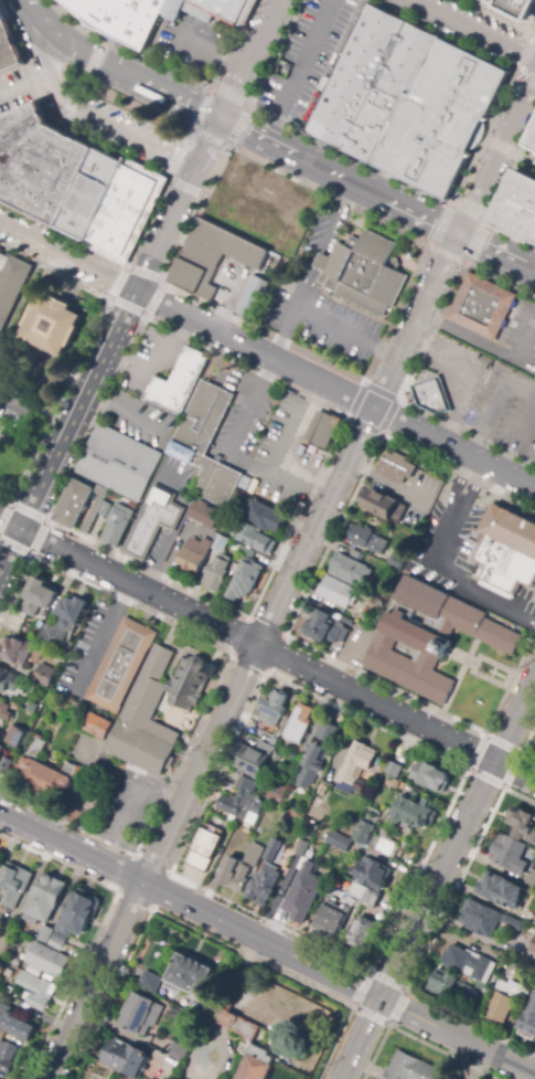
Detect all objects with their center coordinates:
building: (77, 6)
building: (515, 6)
building: (224, 8)
building: (185, 10)
road: (496, 17)
building: (1, 18)
building: (125, 19)
road: (472, 29)
road: (531, 32)
road: (442, 35)
parking lot: (191, 43)
building: (8, 49)
parking lot: (303, 57)
road: (94, 59)
road: (250, 60)
road: (523, 61)
road: (116, 68)
road: (517, 70)
road: (171, 71)
road: (79, 86)
building: (407, 99)
road: (67, 108)
road: (88, 117)
traffic signals: (222, 120)
building: (20, 127)
road: (193, 130)
road: (186, 138)
building: (531, 140)
road: (210, 146)
road: (499, 147)
road: (499, 157)
road: (525, 159)
road: (173, 161)
road: (364, 161)
parking lot: (466, 165)
road: (157, 170)
building: (44, 172)
road: (340, 177)
road: (184, 187)
road: (497, 192)
building: (89, 193)
road: (451, 205)
building: (122, 207)
building: (516, 207)
road: (165, 231)
road: (430, 246)
road: (496, 253)
road: (67, 257)
building: (222, 266)
building: (364, 271)
road: (159, 282)
building: (12, 287)
building: (249, 296)
building: (482, 306)
road: (415, 320)
building: (53, 326)
road: (255, 347)
road: (84, 351)
road: (413, 366)
building: (178, 382)
building: (431, 395)
building: (3, 401)
road: (344, 415)
road: (349, 417)
building: (321, 429)
road: (67, 432)
building: (207, 438)
road: (453, 447)
building: (119, 462)
building: (396, 465)
building: (245, 484)
building: (379, 504)
building: (74, 505)
building: (95, 509)
building: (105, 509)
building: (205, 515)
building: (265, 517)
building: (153, 521)
road: (44, 525)
building: (117, 525)
building: (255, 539)
building: (366, 539)
building: (221, 544)
building: (236, 548)
building: (510, 551)
building: (247, 552)
building: (195, 554)
building: (396, 563)
building: (234, 571)
building: (350, 571)
building: (217, 573)
building: (245, 580)
building: (338, 592)
building: (39, 597)
road: (296, 611)
building: (64, 621)
building: (347, 621)
building: (324, 628)
road: (103, 634)
building: (432, 637)
road: (267, 649)
building: (15, 650)
building: (122, 665)
road: (267, 673)
building: (45, 676)
building: (9, 680)
road: (211, 691)
building: (33, 708)
building: (274, 709)
building: (4, 710)
building: (139, 710)
road: (514, 718)
building: (299, 723)
building: (98, 727)
building: (328, 732)
building: (17, 737)
building: (272, 741)
road: (210, 743)
road: (524, 743)
building: (1, 749)
building: (268, 749)
road: (520, 752)
building: (250, 761)
building: (311, 765)
building: (6, 766)
building: (355, 768)
building: (393, 772)
building: (50, 774)
building: (431, 776)
building: (277, 793)
building: (242, 801)
building: (372, 811)
building: (314, 813)
building: (413, 814)
building: (523, 825)
building: (366, 832)
building: (340, 842)
building: (386, 847)
road: (71, 848)
building: (301, 848)
building: (204, 850)
building: (510, 854)
building: (239, 869)
building: (266, 877)
road: (437, 879)
building: (531, 879)
building: (14, 884)
building: (368, 885)
building: (501, 890)
building: (303, 895)
building: (44, 900)
building: (81, 912)
building: (331, 918)
building: (484, 919)
road: (98, 927)
building: (361, 933)
building: (46, 934)
road: (203, 934)
road: (430, 937)
road: (260, 940)
building: (57, 941)
building: (11, 949)
building: (532, 952)
building: (46, 960)
building: (470, 963)
building: (12, 964)
building: (532, 972)
building: (188, 975)
building: (148, 981)
building: (450, 987)
building: (35, 990)
building: (514, 990)
building: (484, 991)
traffic signals: (381, 998)
building: (178, 1001)
building: (500, 1008)
building: (140, 1014)
building: (225, 1016)
building: (528, 1017)
building: (14, 1022)
road: (388, 1025)
road: (457, 1036)
road: (361, 1038)
road: (416, 1039)
building: (178, 1051)
building: (7, 1056)
building: (125, 1058)
building: (256, 1062)
building: (411, 1069)
building: (452, 1078)

